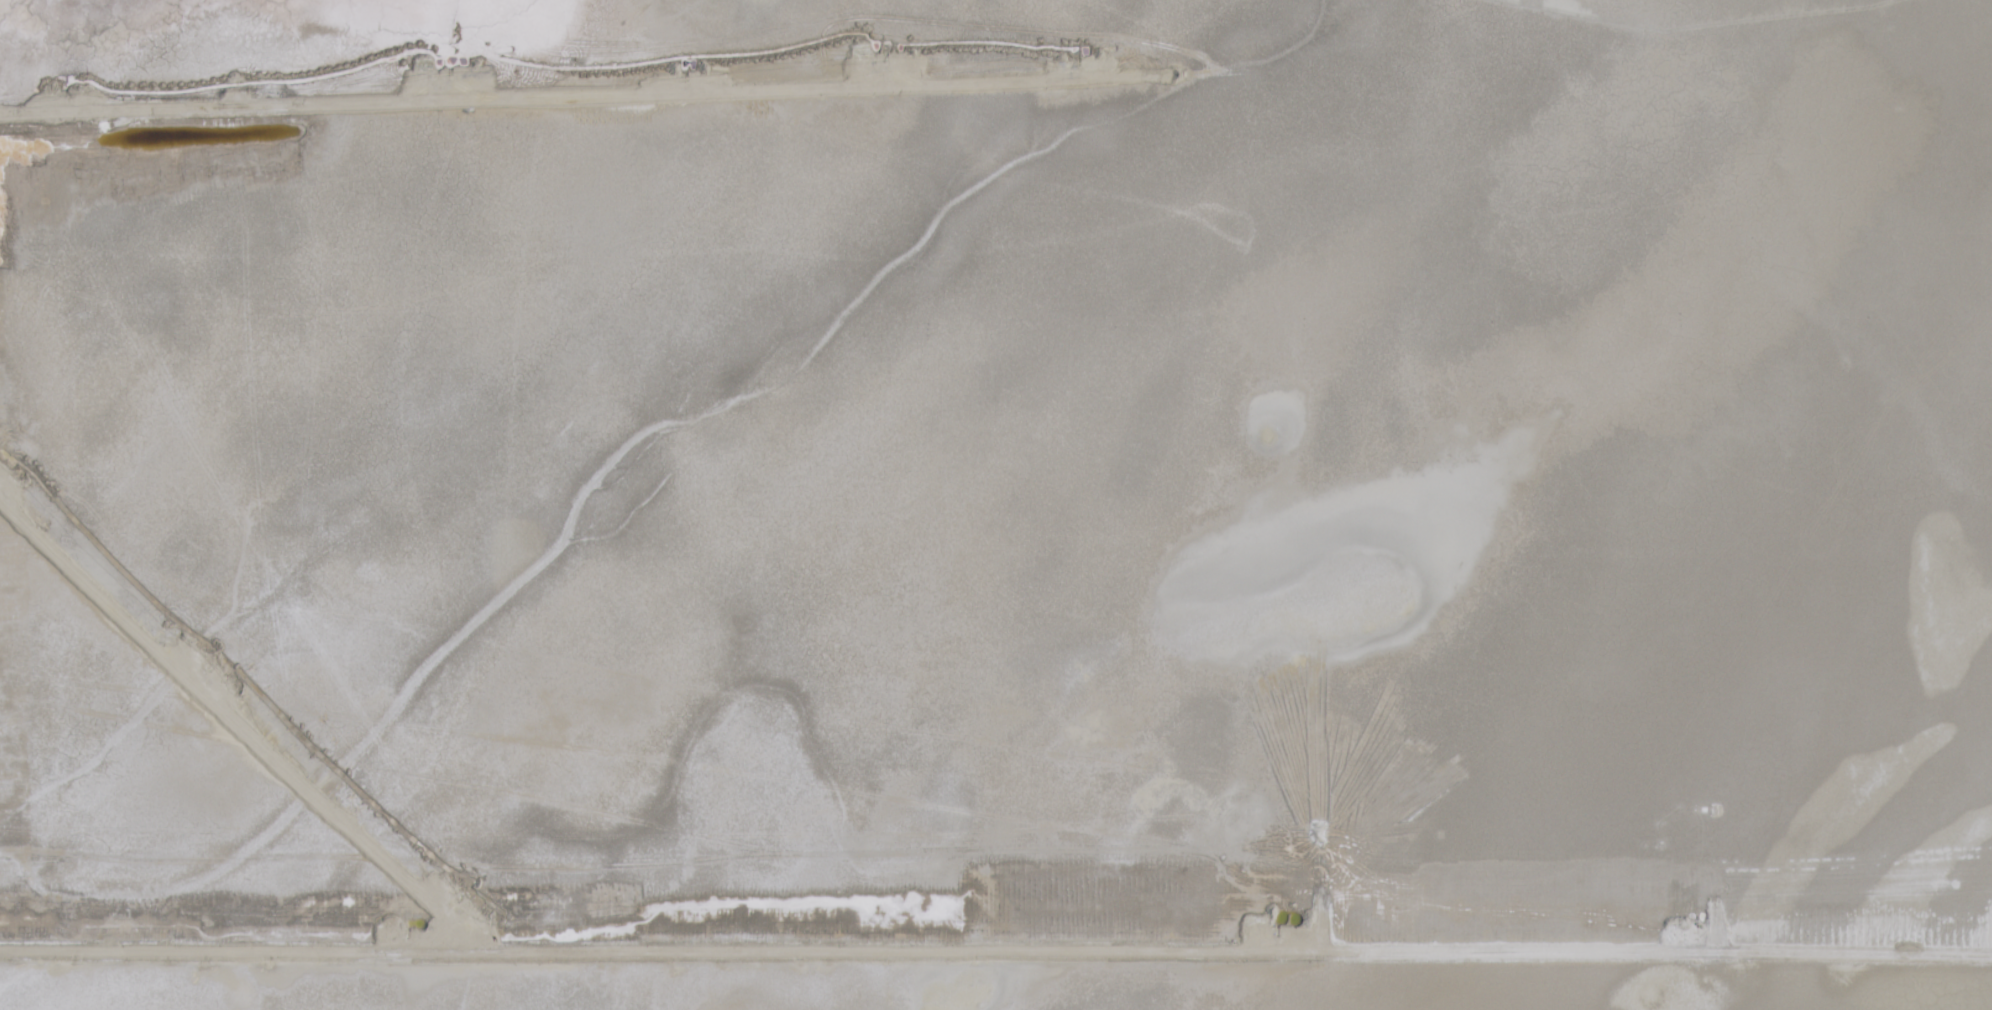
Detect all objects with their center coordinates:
quarry: (165, 94)

